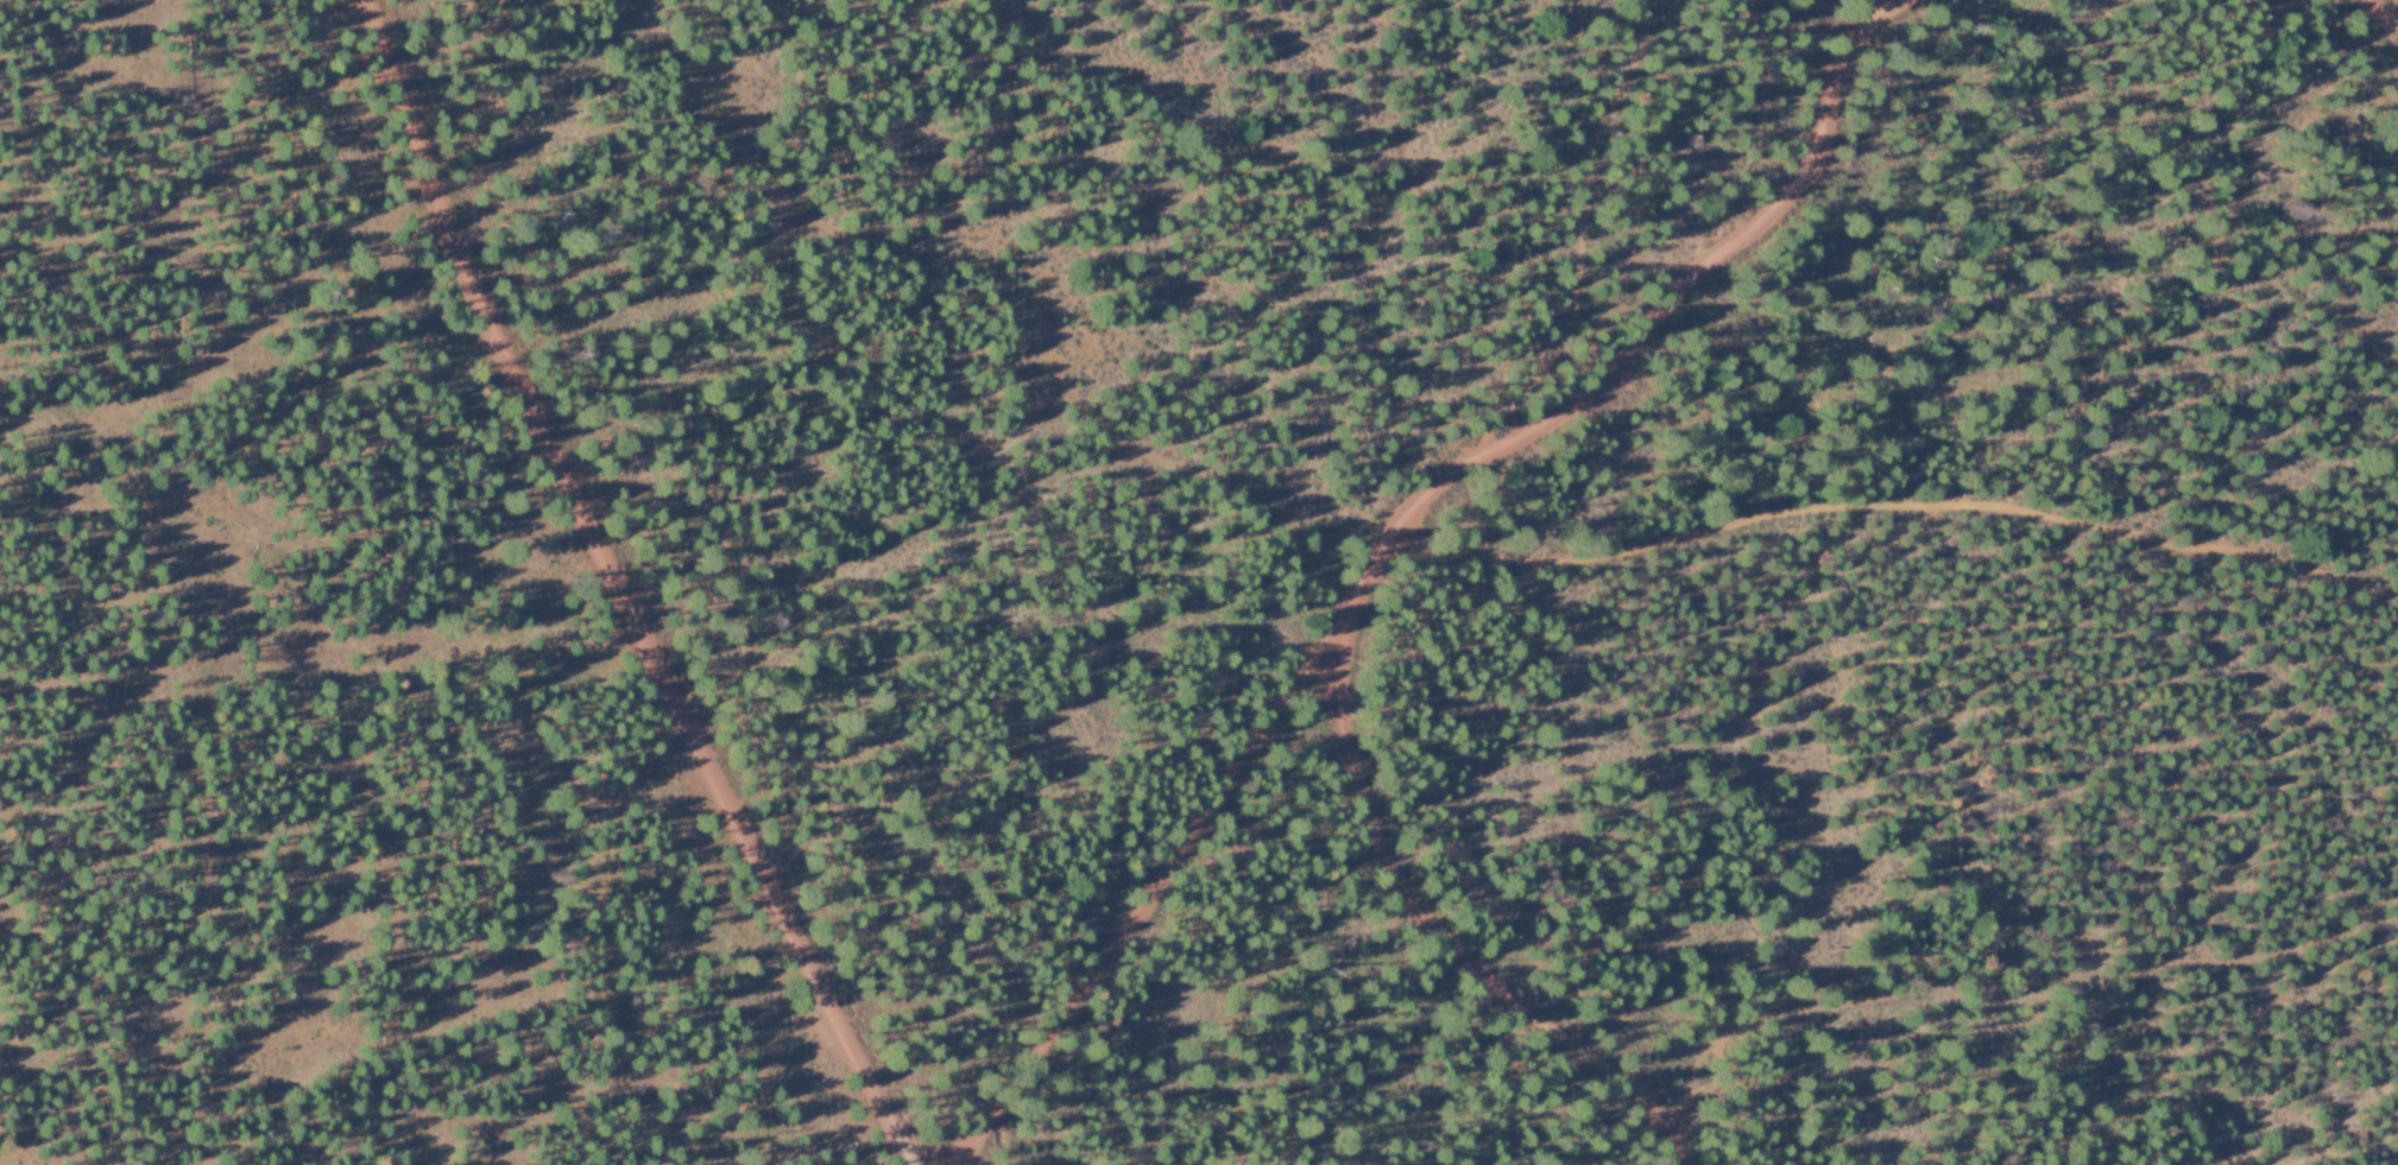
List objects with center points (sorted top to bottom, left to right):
road: (2380, 12)
road: (1887, 483)
road: (1388, 533)
road: (614, 590)
road: (1449, 936)

